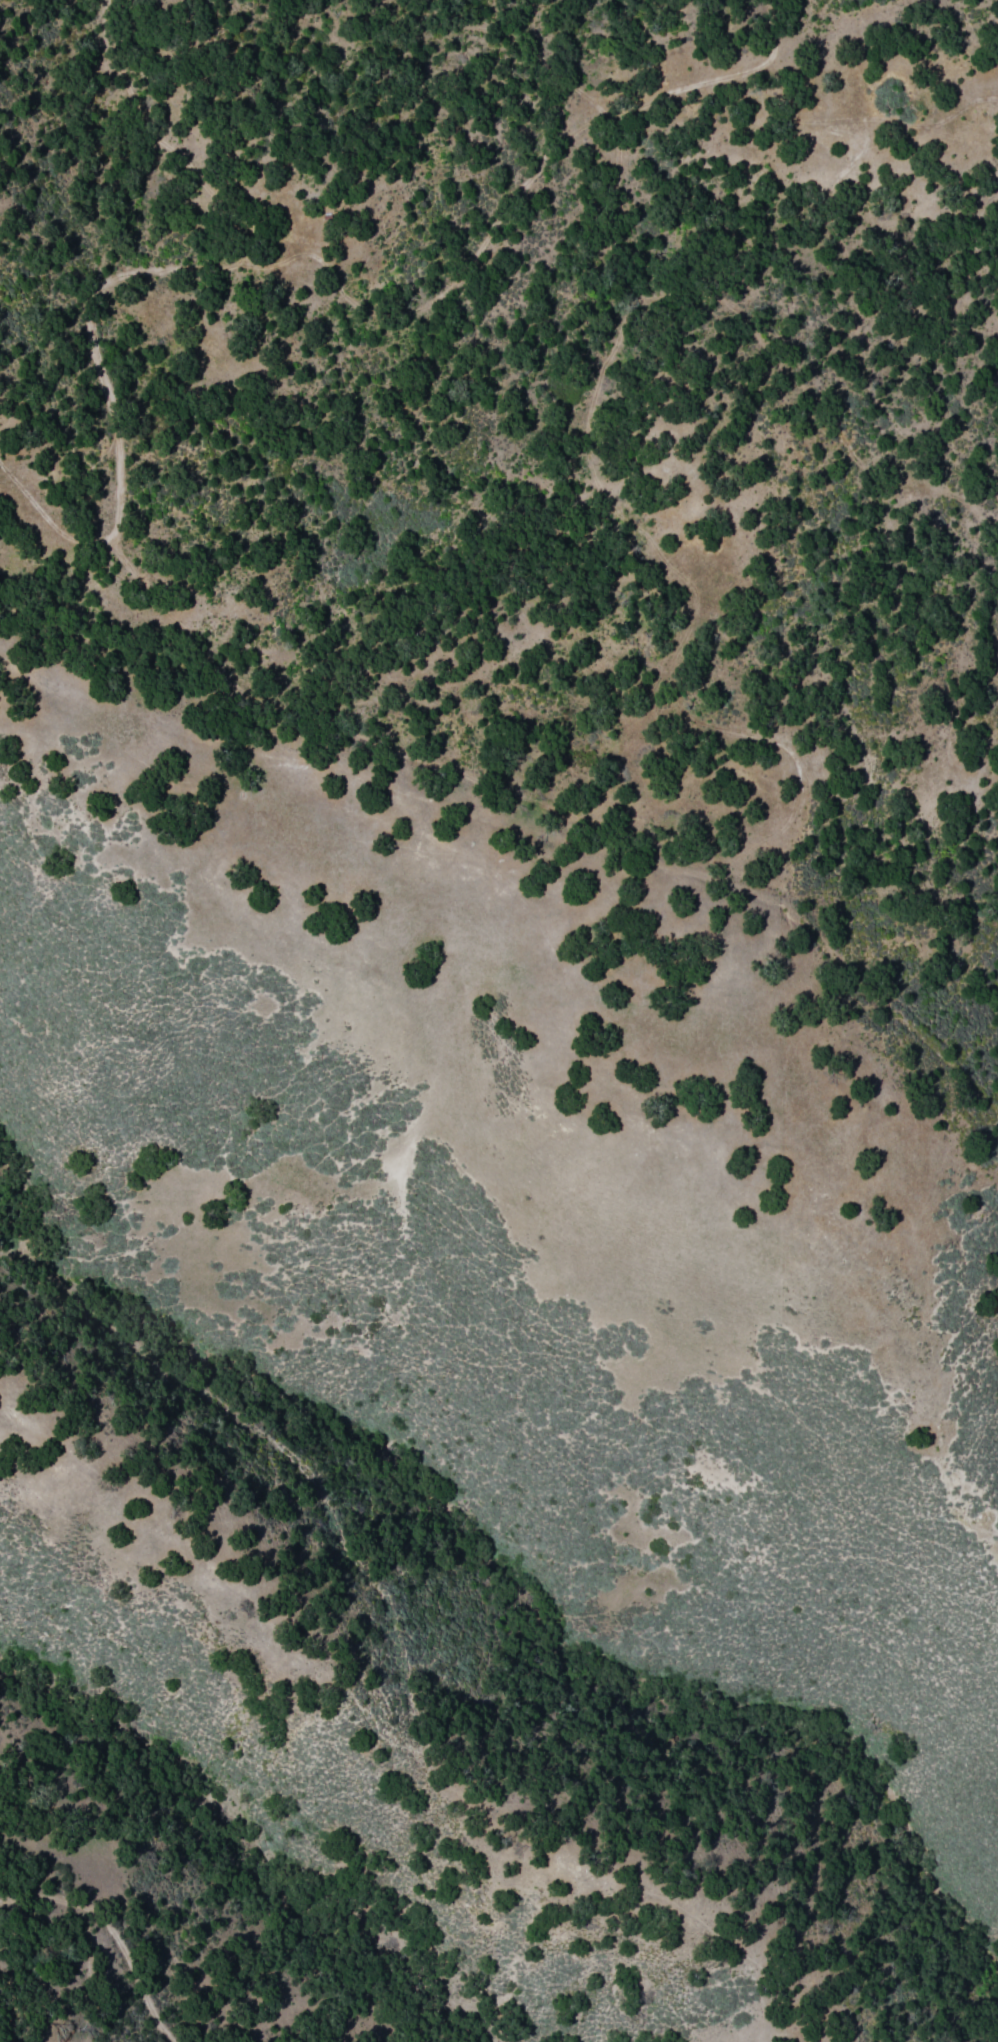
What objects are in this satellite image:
road: (168, 150)
road: (284, 253)
road: (765, 353)
road: (296, 718)
road: (523, 827)
road: (106, 1938)

